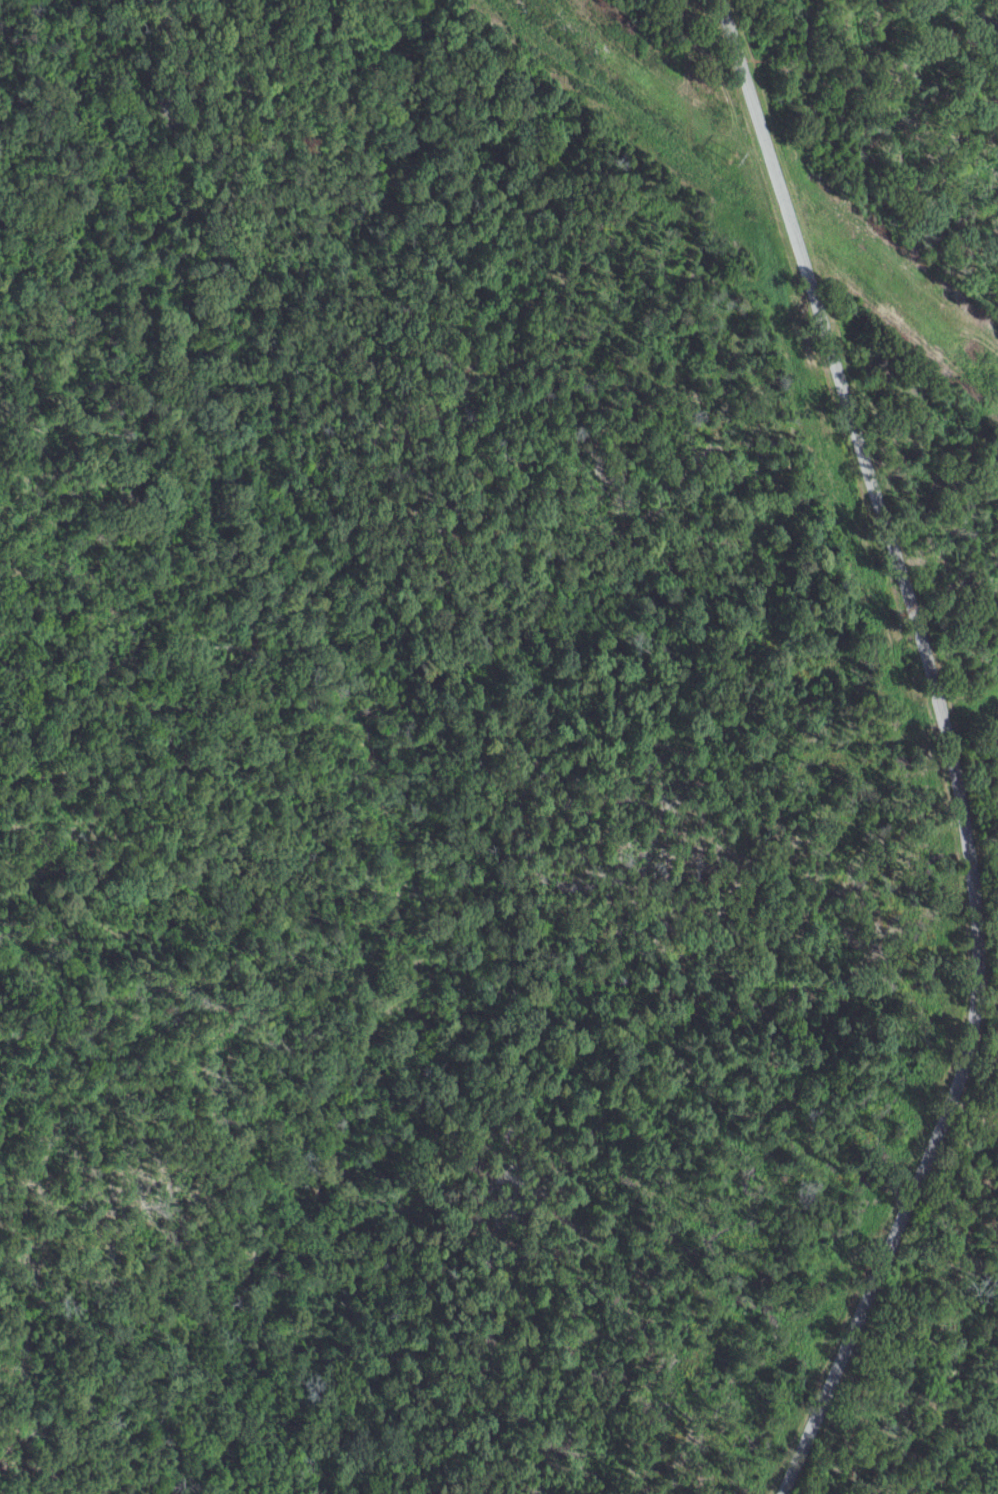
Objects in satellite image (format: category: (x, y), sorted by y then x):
power tower: (732, 160)
road: (946, 749)

